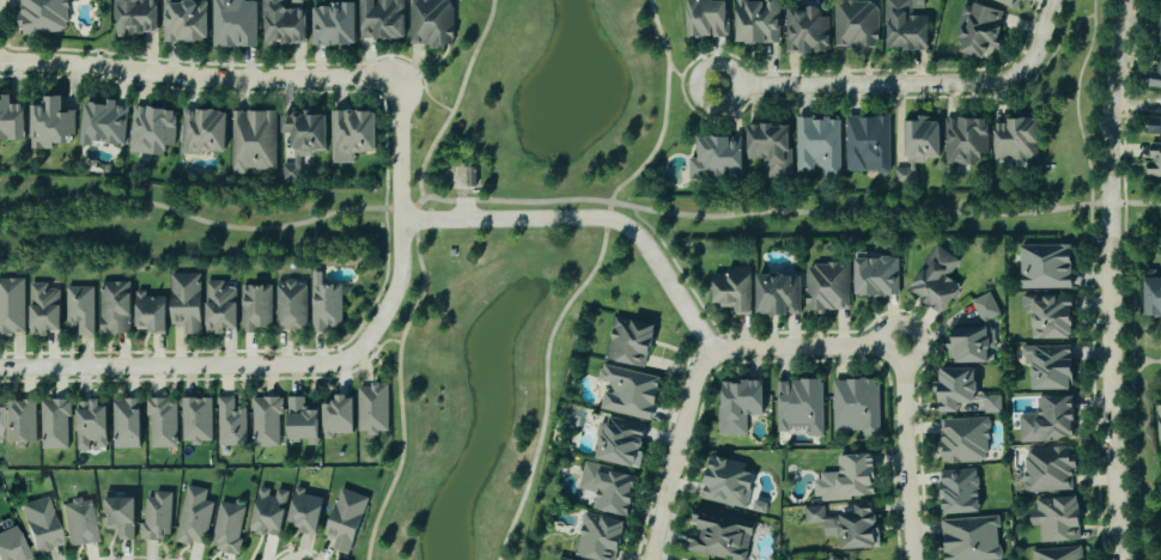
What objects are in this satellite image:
building: (1008, 4)
building: (42, 17)
building: (135, 18)
building: (382, 19)
building: (706, 19)
building: (184, 22)
building: (282, 22)
building: (758, 23)
building: (233, 24)
building: (431, 24)
building: (856, 24)
building: (333, 26)
building: (905, 28)
building: (979, 31)
building: (806, 32)
road: (413, 62)
building: (1155, 77)
road: (200, 78)
road: (691, 80)
road: (912, 84)
road: (413, 86)
road: (426, 92)
road: (456, 99)
building: (11, 122)
building: (103, 123)
building: (49, 126)
building: (1154, 127)
building: (152, 132)
building: (203, 133)
building: (353, 135)
building: (303, 140)
building: (1016, 141)
building: (253, 142)
building: (966, 142)
building: (868, 145)
building: (817, 147)
building: (771, 150)
building: (918, 150)
building: (717, 159)
building: (1154, 160)
road: (461, 191)
road: (790, 212)
road: (594, 219)
road: (211, 223)
building: (1046, 266)
road: (681, 275)
building: (876, 275)
road: (586, 276)
building: (936, 279)
road: (1112, 279)
building: (827, 287)
building: (734, 290)
building: (778, 293)
building: (1153, 296)
building: (186, 302)
building: (324, 304)
building: (290, 305)
building: (11, 306)
building: (985, 306)
building: (115, 308)
building: (220, 308)
building: (255, 308)
building: (43, 309)
building: (80, 309)
building: (150, 314)
building: (1050, 316)
road: (382, 341)
building: (630, 342)
building: (971, 343)
road: (808, 347)
road: (1137, 352)
road: (1154, 360)
road: (324, 365)
building: (1052, 367)
road: (1137, 369)
road: (1131, 381)
building: (956, 388)
road: (399, 390)
building: (630, 391)
building: (738, 404)
building: (973, 404)
building: (992, 404)
building: (856, 406)
building: (800, 407)
building: (373, 408)
building: (339, 416)
building: (196, 420)
building: (302, 420)
building: (1048, 420)
building: (0, 421)
building: (266, 421)
building: (20, 422)
building: (162, 422)
building: (231, 422)
building: (54, 424)
building: (126, 424)
building: (90, 425)
building: (1160, 427)
building: (964, 440)
building: (621, 442)
road: (677, 452)
road: (907, 454)
building: (1047, 469)
building: (849, 479)
building: (728, 482)
building: (609, 488)
building: (959, 492)
building: (268, 511)
building: (305, 512)
building: (118, 516)
building: (156, 516)
building: (194, 517)
building: (1057, 518)
building: (346, 519)
park: (1143, 521)
building: (79, 522)
building: (41, 525)
building: (849, 525)
building: (227, 528)
building: (722, 535)
building: (600, 537)
building: (971, 538)
building: (12, 546)
building: (1057, 554)
building: (831, 558)
building: (561, 559)

